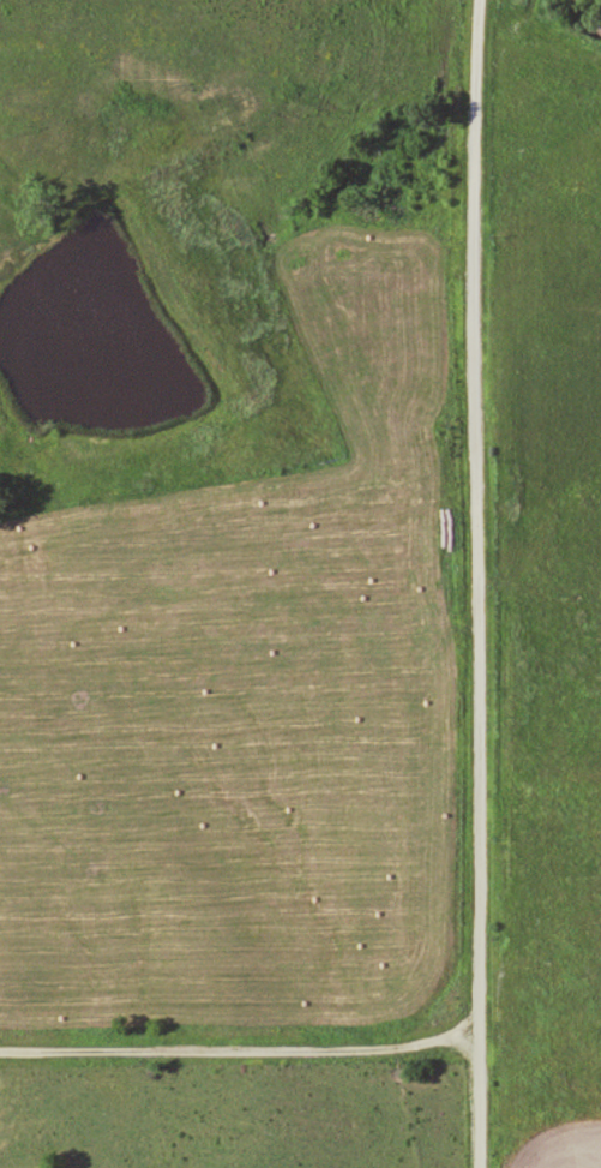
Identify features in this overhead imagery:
road: (477, 583)
road: (240, 1052)

